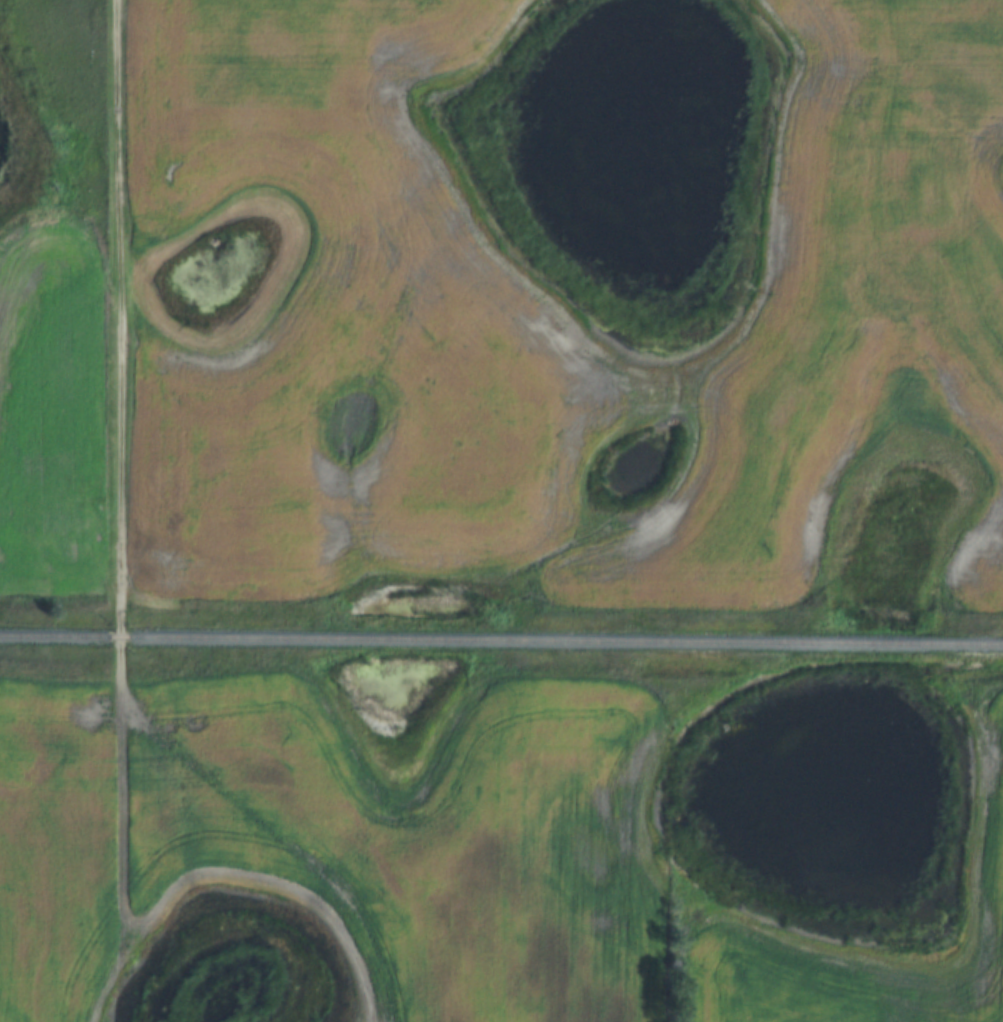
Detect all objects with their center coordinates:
road: (120, 583)
railway: (501, 640)

